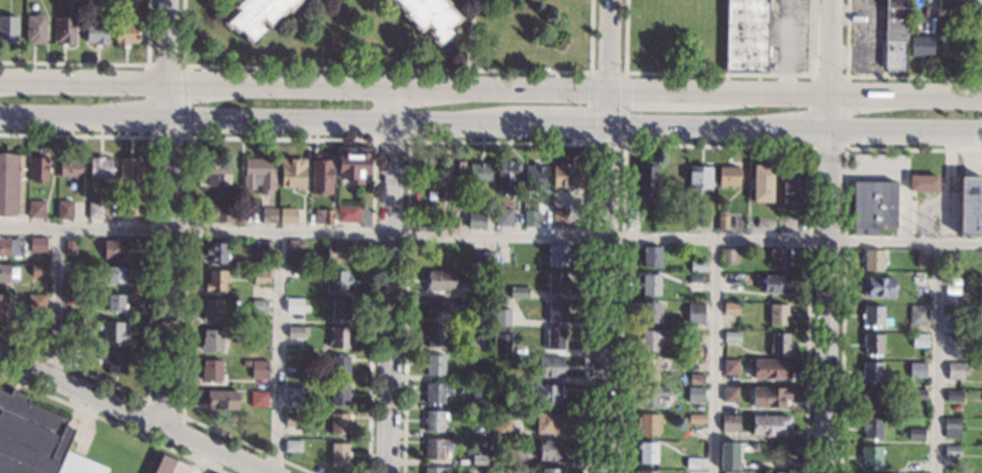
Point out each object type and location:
building: (952, 4)
building: (257, 14)
building: (429, 15)
building: (7, 28)
building: (35, 29)
building: (65, 30)
building: (96, 32)
building: (126, 33)
building: (748, 35)
building: (895, 36)
building: (921, 47)
building: (978, 47)
road: (612, 63)
road: (942, 66)
road: (491, 92)
road: (255, 121)
road: (561, 126)
road: (796, 129)
building: (352, 164)
building: (70, 167)
building: (38, 168)
building: (100, 168)
building: (130, 169)
building: (213, 173)
building: (292, 173)
building: (479, 173)
building: (454, 174)
building: (258, 175)
building: (564, 175)
building: (320, 176)
building: (729, 176)
building: (506, 177)
building: (534, 178)
building: (699, 178)
building: (671, 179)
building: (647, 182)
building: (762, 183)
building: (923, 183)
building: (792, 184)
building: (11, 185)
building: (874, 206)
building: (971, 206)
building: (36, 209)
building: (64, 209)
building: (127, 210)
building: (95, 211)
road: (168, 212)
building: (347, 213)
building: (216, 214)
building: (268, 215)
building: (287, 216)
building: (327, 217)
building: (452, 217)
building: (503, 218)
building: (531, 218)
building: (559, 219)
building: (476, 220)
building: (722, 220)
building: (668, 221)
road: (491, 234)
road: (827, 236)
building: (38, 245)
building: (295, 245)
building: (11, 247)
building: (71, 247)
building: (115, 249)
building: (266, 250)
building: (216, 253)
building: (337, 253)
building: (503, 254)
building: (557, 255)
building: (650, 256)
building: (729, 256)
building: (482, 258)
building: (779, 259)
building: (873, 260)
building: (923, 260)
building: (950, 261)
building: (698, 266)
building: (39, 270)
building: (4, 273)
building: (951, 274)
building: (116, 275)
building: (261, 277)
building: (216, 280)
building: (440, 280)
building: (338, 281)
road: (390, 281)
building: (556, 283)
building: (650, 284)
building: (695, 284)
building: (776, 284)
building: (878, 287)
building: (483, 290)
building: (518, 292)
building: (73, 298)
road: (606, 299)
building: (962, 300)
building: (37, 303)
building: (115, 303)
building: (294, 305)
road: (57, 306)
building: (259, 306)
building: (486, 306)
building: (3, 307)
building: (306, 308)
building: (340, 308)
building: (437, 308)
building: (730, 308)
building: (212, 310)
building: (555, 311)
building: (650, 313)
building: (981, 313)
building: (696, 314)
building: (778, 314)
building: (875, 316)
building: (918, 316)
building: (502, 317)
building: (296, 331)
building: (113, 332)
building: (435, 336)
building: (731, 337)
building: (339, 338)
building: (555, 339)
building: (651, 339)
building: (955, 339)
building: (919, 340)
building: (212, 341)
building: (779, 343)
building: (872, 343)
building: (473, 344)
building: (502, 344)
building: (980, 344)
building: (692, 351)
road: (276, 352)
building: (74, 353)
road: (715, 355)
building: (482, 358)
road: (938, 358)
building: (113, 359)
building: (246, 363)
building: (435, 365)
building: (340, 366)
building: (550, 366)
building: (730, 367)
building: (771, 368)
building: (649, 369)
building: (211, 370)
building: (260, 370)
building: (917, 370)
building: (955, 370)
building: (872, 372)
building: (696, 379)
building: (294, 393)
building: (434, 394)
building: (695, 394)
building: (730, 394)
building: (918, 394)
building: (339, 395)
building: (547, 395)
building: (651, 396)
building: (954, 396)
building: (769, 397)
building: (258, 399)
building: (873, 399)
building: (220, 400)
building: (478, 404)
building: (510, 404)
building: (482, 413)
road: (136, 414)
building: (695, 419)
building: (293, 420)
building: (433, 421)
building: (338, 423)
building: (548, 423)
building: (730, 423)
building: (648, 424)
building: (769, 425)
building: (871, 428)
building: (951, 428)
building: (500, 430)
building: (916, 434)
building: (36, 440)
building: (292, 446)
building: (437, 449)
building: (550, 450)
building: (951, 450)
building: (647, 452)
building: (339, 454)
building: (729, 456)
building: (871, 456)
building: (478, 459)
building: (693, 463)
building: (169, 466)
building: (915, 466)
building: (435, 470)
building: (552, 471)
building: (647, 471)
building: (663, 472)
building: (693, 472)
building: (730, 472)
building: (773, 472)

